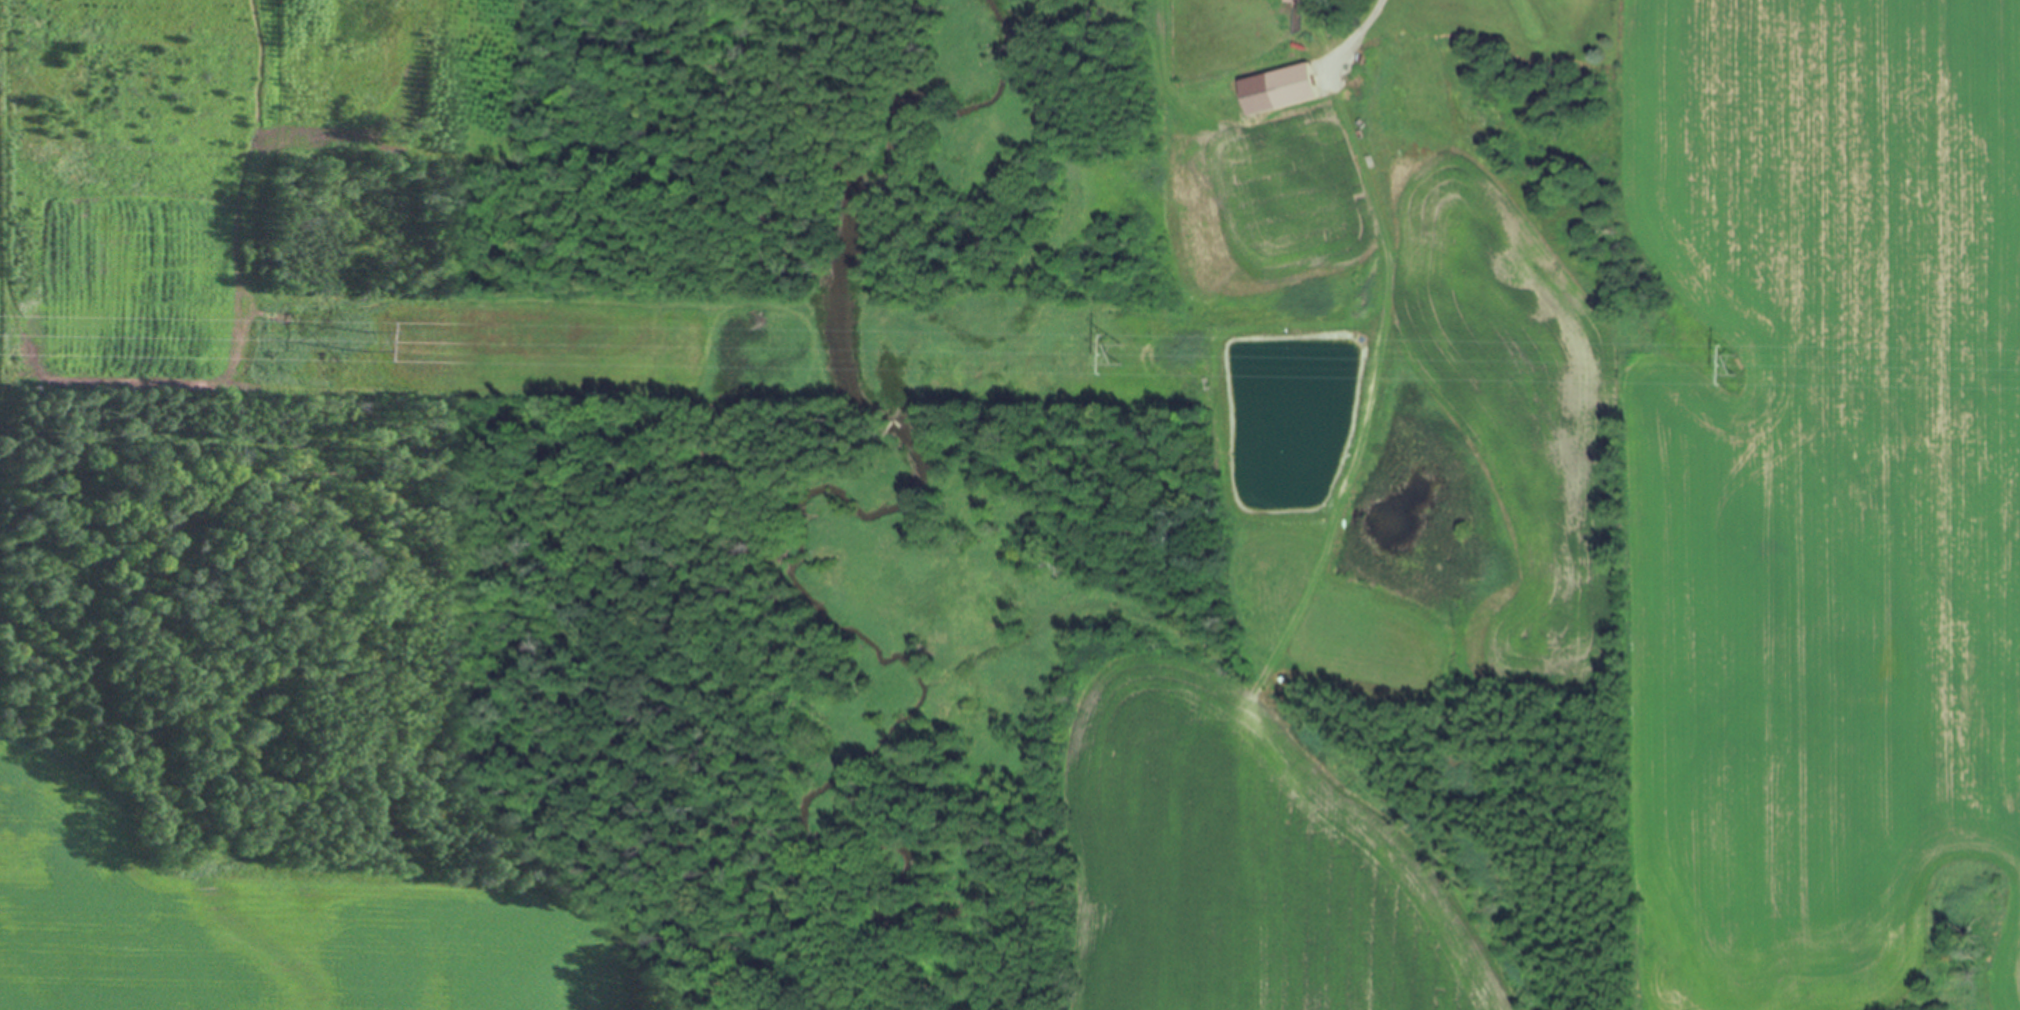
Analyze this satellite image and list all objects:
road: (1361, 31)
building: (1286, 88)
power tower: (362, 345)
power tower: (1117, 356)
power tower: (1737, 366)

